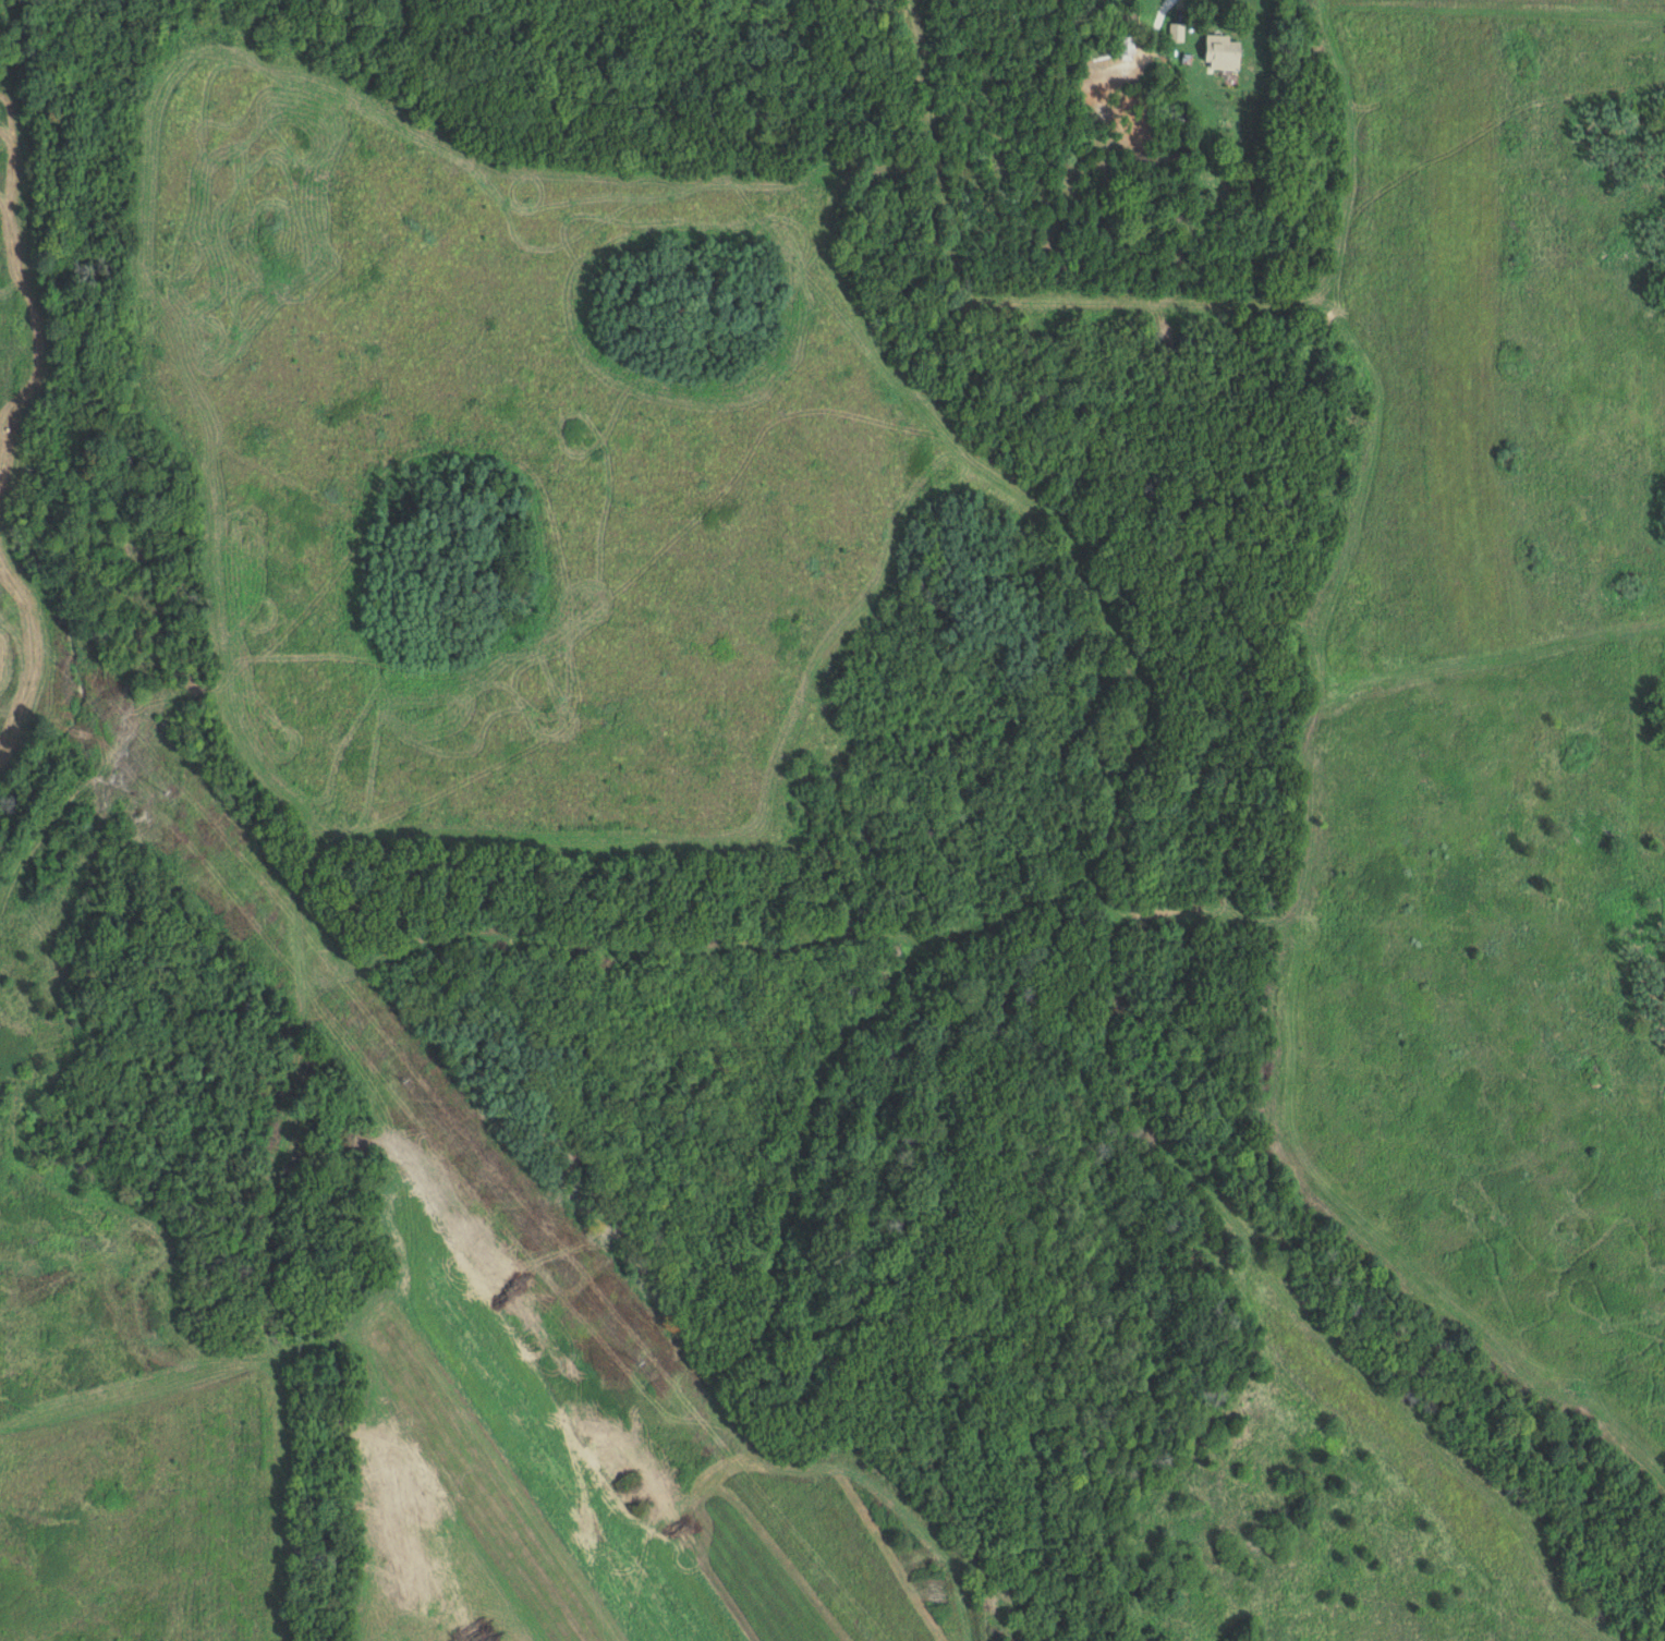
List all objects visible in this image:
building: (1226, 52)

